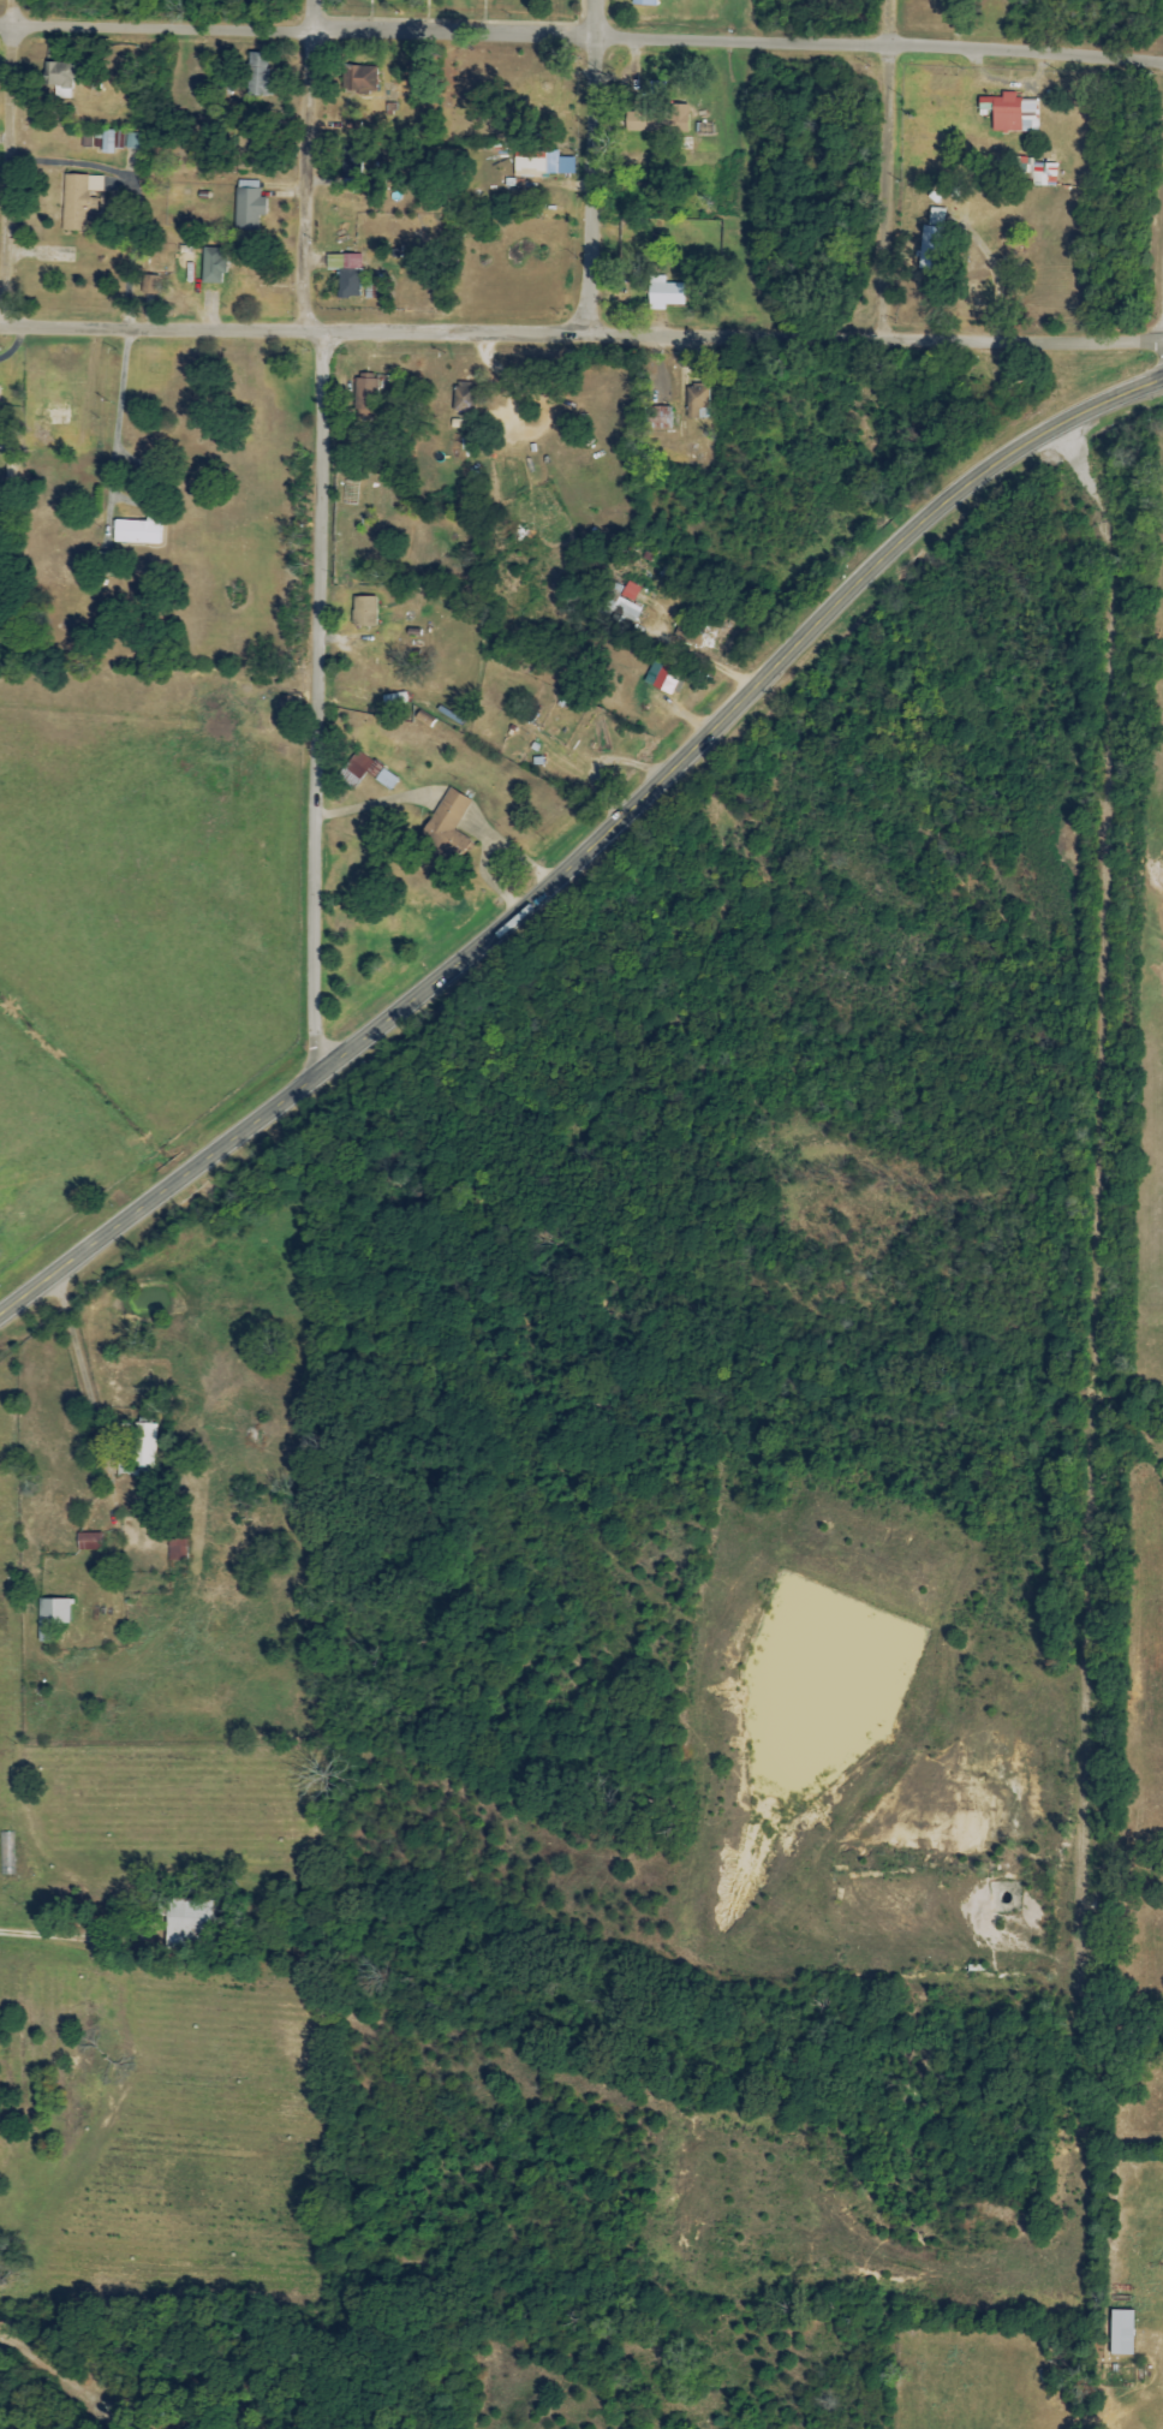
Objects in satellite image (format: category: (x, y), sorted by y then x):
building: (644, 2)
road: (581, 32)
building: (61, 75)
building: (258, 76)
building: (358, 79)
building: (1010, 113)
building: (657, 120)
building: (132, 141)
building: (108, 142)
building: (250, 153)
building: (353, 161)
road: (8, 162)
building: (536, 163)
road: (890, 165)
road: (590, 166)
building: (1043, 179)
building: (79, 200)
building: (249, 206)
building: (937, 216)
building: (931, 248)
building: (59, 258)
building: (213, 266)
building: (348, 276)
road: (998, 276)
building: (150, 285)
road: (310, 291)
building: (663, 293)
road: (581, 332)
building: (366, 393)
building: (465, 397)
building: (696, 400)
road: (119, 415)
building: (656, 418)
building: (135, 532)
building: (628, 602)
building: (364, 612)
road: (702, 659)
building: (668, 677)
building: (358, 764)
building: (374, 769)
building: (386, 779)
road: (322, 826)
building: (446, 830)
road: (581, 850)
road: (93, 1415)
building: (145, 1446)
building: (89, 1541)
building: (178, 1550)
building: (53, 1611)
building: (42, 1632)
road: (37, 1933)
building: (1121, 2333)

